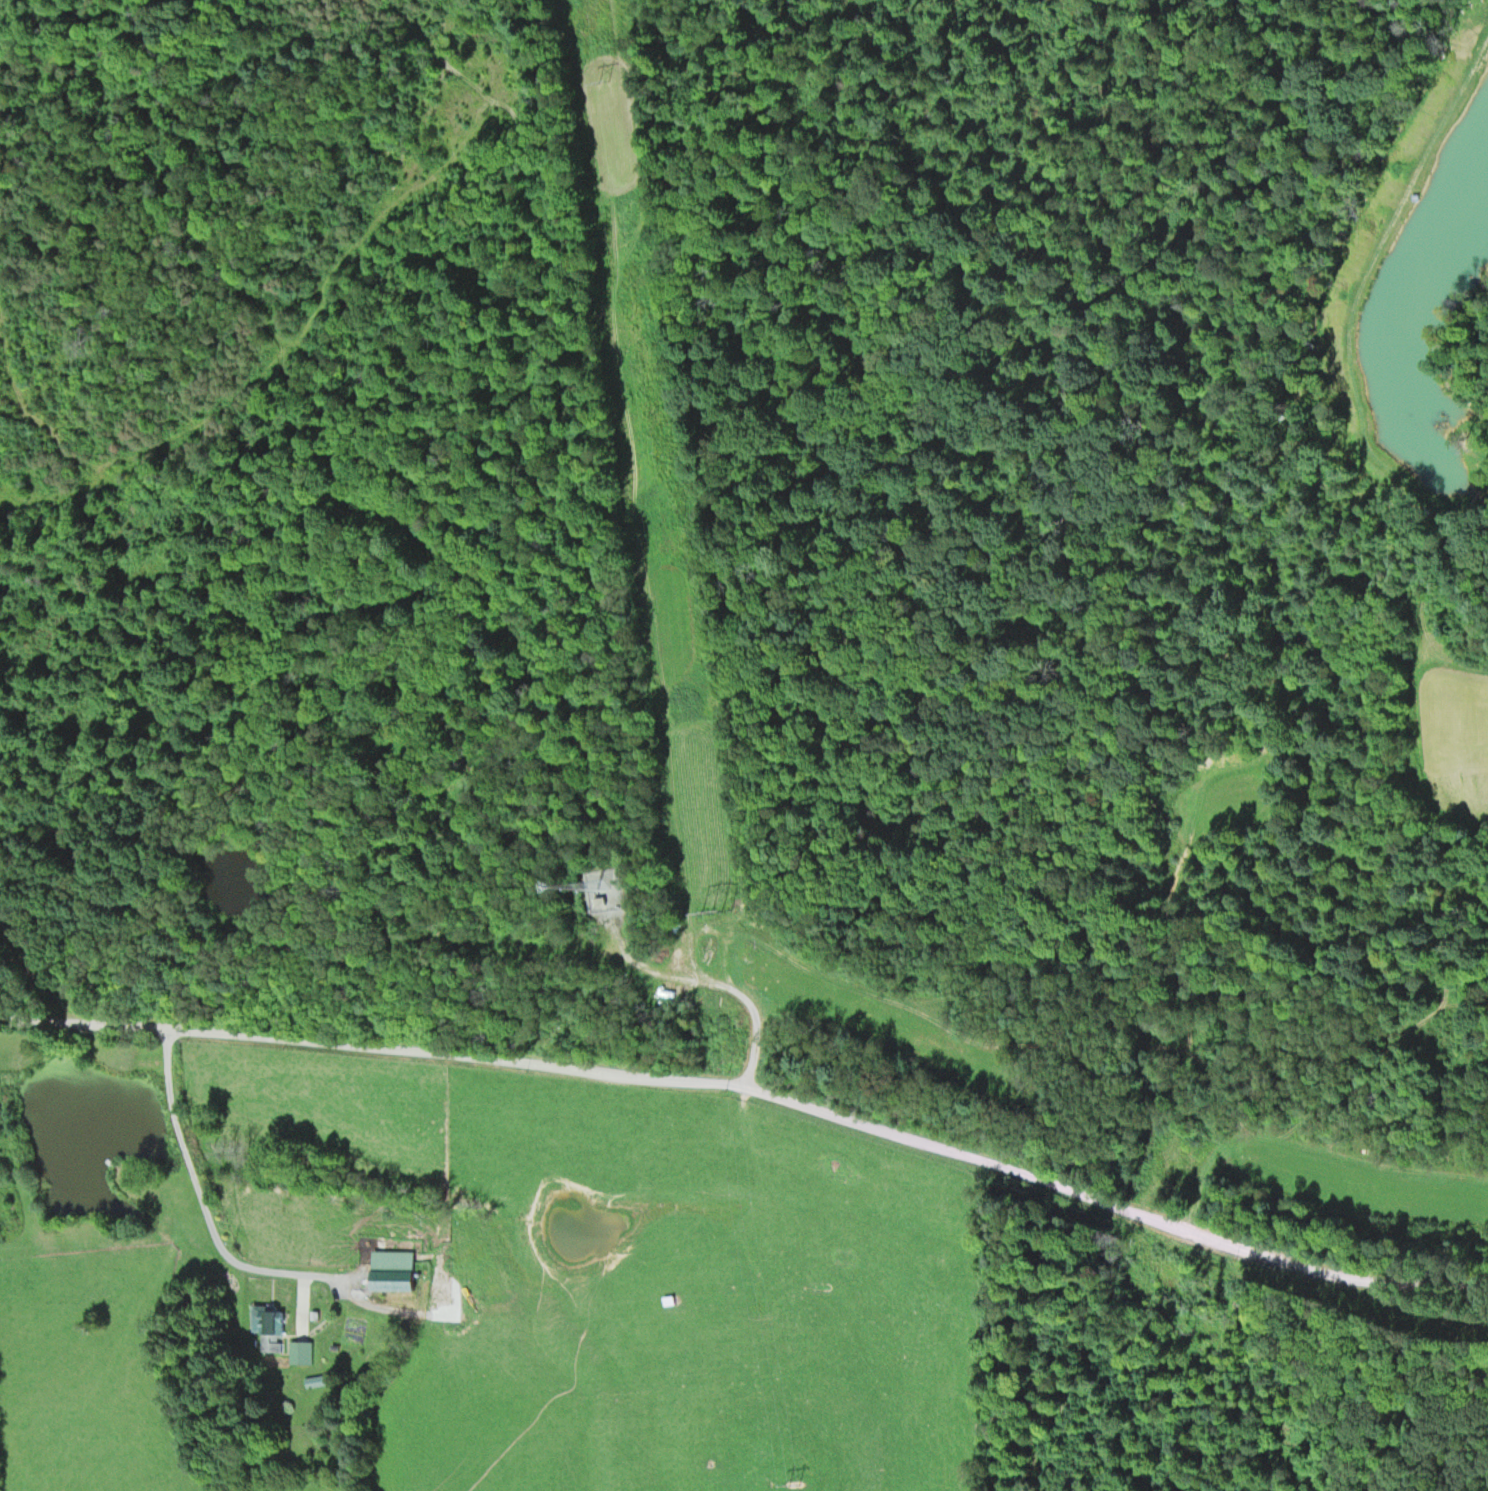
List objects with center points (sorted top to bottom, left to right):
power tower: (716, 909)
road: (756, 1088)
building: (268, 1326)

